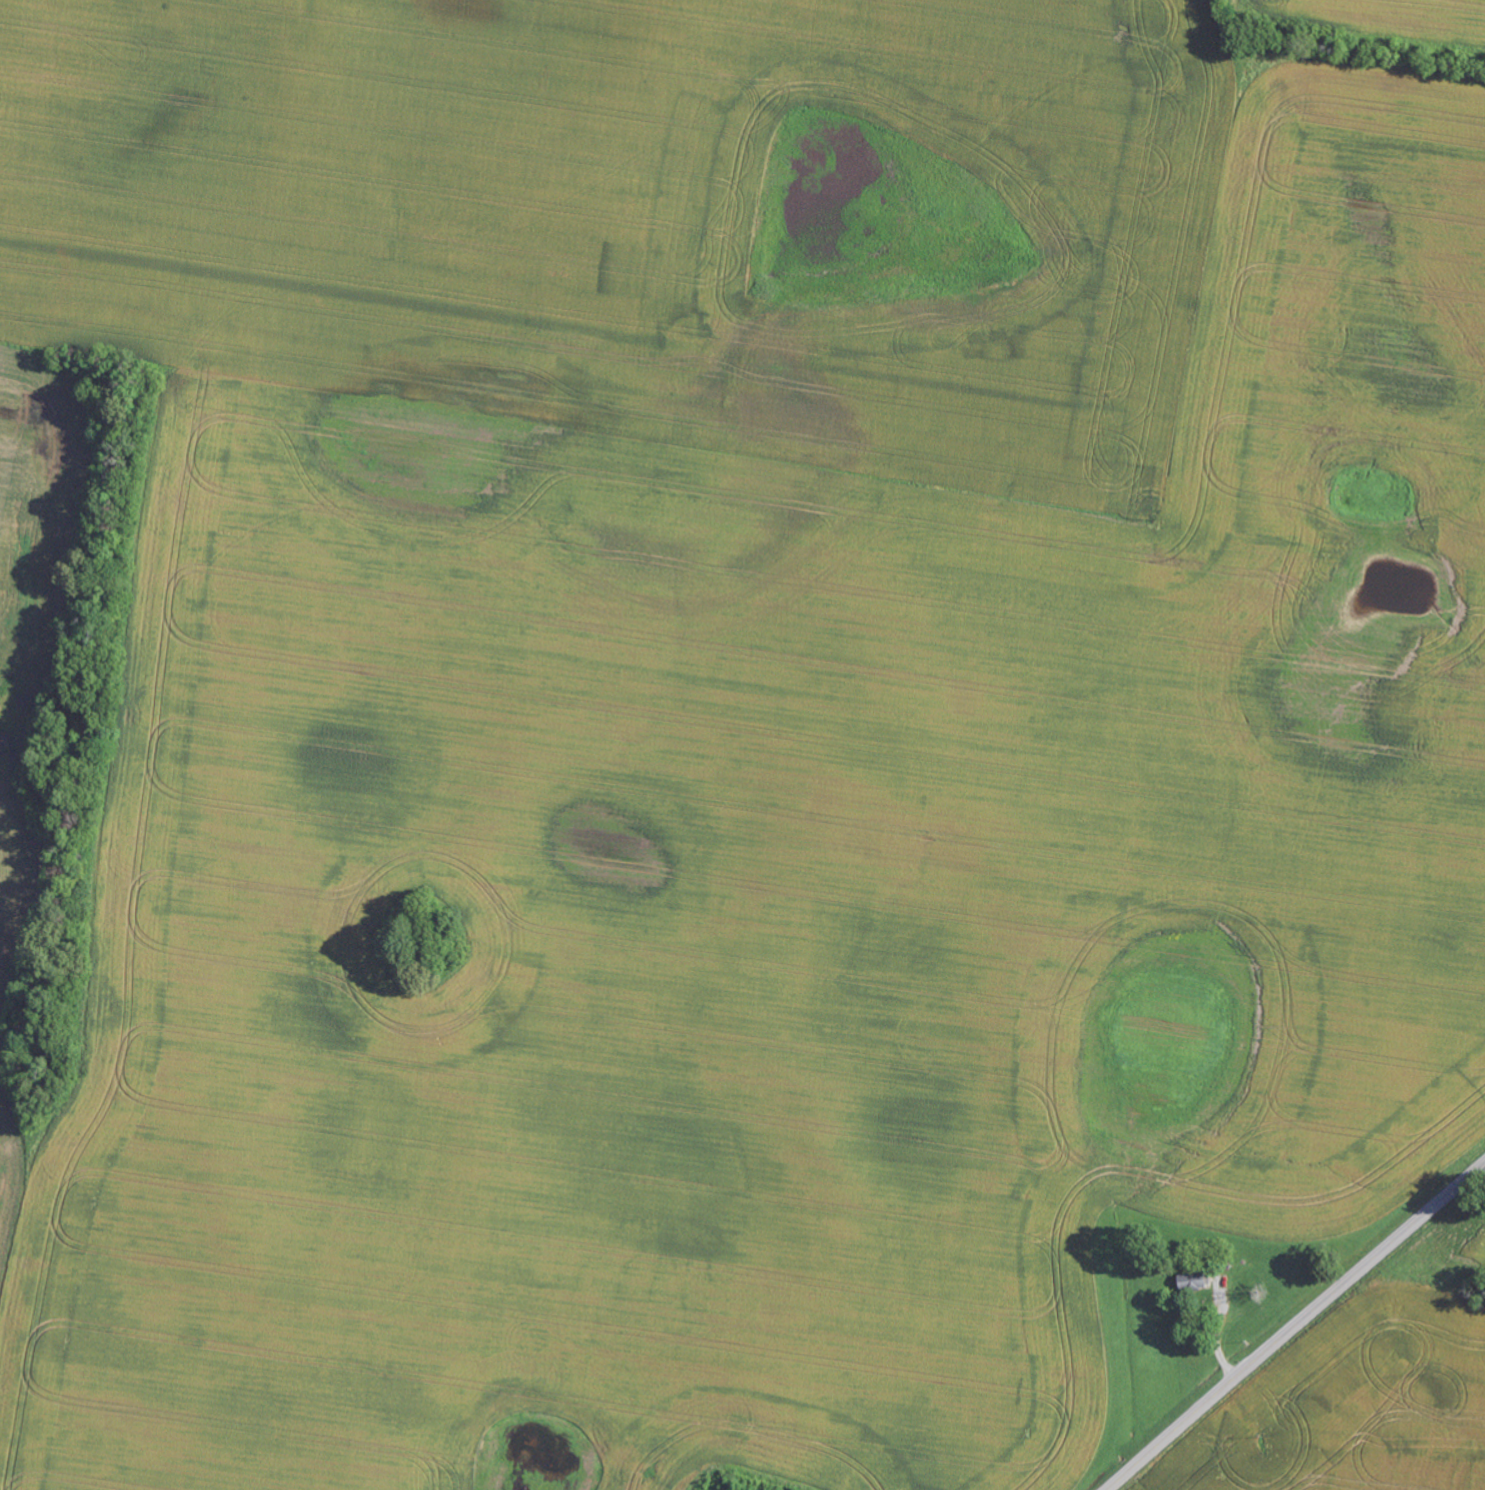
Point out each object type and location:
road: (181, 41)
road: (1371, 43)
building: (1195, 1281)
road: (1296, 1326)

